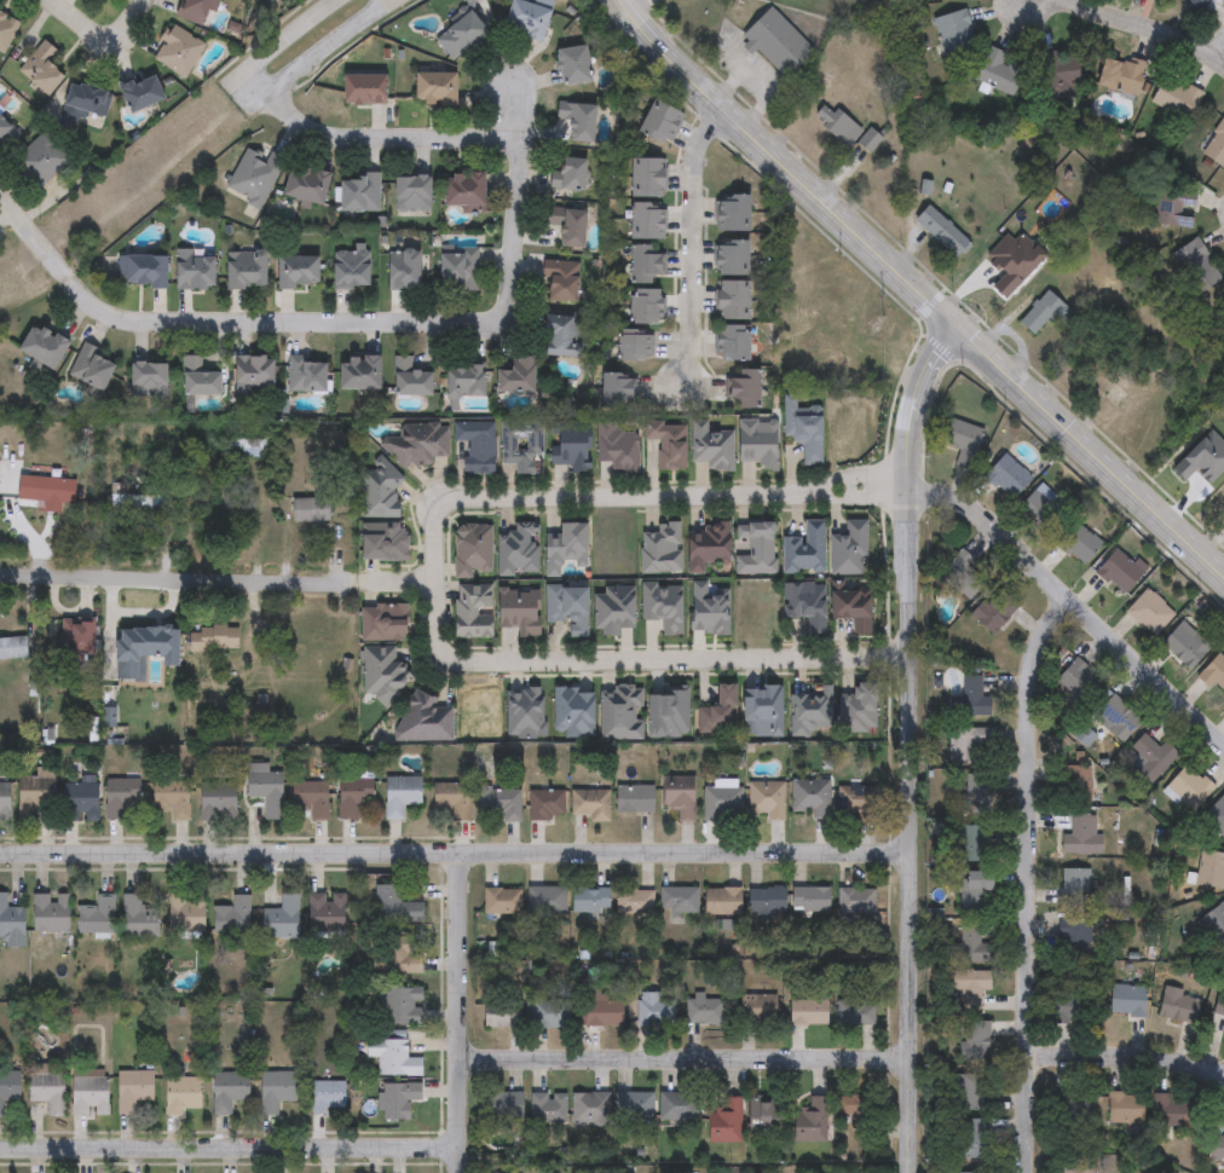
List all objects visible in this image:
building: (103, 0)
building: (1200, 2)
road: (635, 6)
building: (194, 10)
building: (526, 18)
building: (6, 29)
building: (954, 33)
road: (1147, 33)
road: (100, 35)
road: (291, 35)
building: (460, 35)
building: (779, 45)
road: (331, 47)
building: (177, 51)
road: (1216, 52)
building: (572, 65)
building: (41, 68)
building: (1060, 69)
building: (999, 73)
building: (1120, 76)
building: (364, 88)
building: (434, 88)
building: (142, 92)
building: (1177, 97)
building: (87, 98)
building: (577, 120)
building: (662, 121)
building: (837, 126)
building: (5, 129)
road: (369, 137)
building: (870, 143)
building: (1216, 146)
building: (39, 158)
building: (567, 173)
building: (252, 175)
building: (648, 177)
building: (306, 184)
building: (463, 190)
building: (358, 193)
building: (411, 193)
road: (518, 201)
building: (1173, 209)
building: (733, 212)
building: (648, 219)
building: (567, 225)
building: (941, 232)
road: (692, 242)
building: (732, 258)
building: (646, 262)
building: (1196, 265)
building: (351, 268)
building: (458, 268)
building: (140, 270)
building: (194, 270)
building: (246, 270)
building: (403, 270)
building: (298, 271)
building: (561, 281)
road: (917, 293)
building: (733, 299)
building: (646, 305)
building: (1041, 314)
road: (227, 319)
building: (562, 336)
building: (733, 342)
building: (636, 345)
building: (42, 347)
building: (91, 369)
building: (253, 372)
building: (359, 372)
building: (305, 374)
building: (201, 376)
building: (515, 376)
building: (410, 379)
building: (148, 380)
building: (464, 381)
building: (744, 389)
building: (617, 391)
building: (804, 428)
building: (960, 437)
building: (668, 441)
building: (520, 443)
building: (757, 443)
building: (477, 444)
building: (712, 444)
building: (417, 445)
building: (571, 445)
building: (617, 446)
building: (1005, 475)
building: (46, 490)
building: (382, 497)
building: (140, 503)
building: (1041, 508)
building: (311, 512)
building: (1076, 543)
building: (706, 544)
building: (566, 547)
building: (756, 547)
building: (659, 548)
building: (804, 548)
building: (518, 549)
road: (427, 560)
building: (1116, 571)
building: (962, 572)
road: (385, 580)
road: (171, 582)
building: (806, 603)
building: (568, 606)
building: (521, 608)
road: (1073, 608)
building: (472, 609)
building: (992, 611)
building: (1149, 612)
building: (387, 623)
building: (79, 638)
building: (215, 645)
building: (1184, 645)
building: (13, 648)
road: (894, 658)
building: (1213, 672)
building: (386, 676)
building: (1076, 678)
building: (969, 700)
building: (814, 711)
building: (1114, 717)
building: (427, 721)
road: (918, 744)
building: (969, 746)
building: (1151, 757)
building: (1078, 782)
building: (1188, 787)
building: (35, 788)
building: (266, 788)
building: (974, 793)
building: (402, 794)
building: (120, 796)
building: (353, 796)
building: (681, 796)
building: (311, 797)
building: (809, 797)
building: (171, 798)
building: (635, 798)
building: (767, 798)
building: (452, 799)
building: (4, 802)
building: (81, 802)
building: (218, 802)
building: (855, 802)
building: (502, 803)
building: (723, 803)
building: (545, 805)
building: (593, 805)
building: (1216, 814)
building: (1080, 836)
building: (969, 843)
road: (458, 855)
building: (1209, 869)
road: (1026, 880)
building: (1073, 886)
building: (972, 891)
building: (545, 900)
building: (591, 900)
building: (679, 900)
building: (807, 900)
building: (502, 901)
building: (635, 901)
building: (763, 901)
building: (854, 901)
building: (721, 902)
building: (394, 906)
building: (50, 912)
building: (327, 912)
building: (185, 913)
building: (96, 915)
building: (232, 915)
building: (137, 918)
building: (282, 919)
building: (11, 924)
building: (1216, 925)
building: (1073, 937)
building: (968, 946)
building: (402, 958)
building: (968, 989)
building: (1125, 999)
building: (1067, 1004)
building: (1176, 1005)
building: (1218, 1005)
building: (404, 1006)
building: (752, 1009)
building: (653, 1010)
building: (602, 1011)
building: (703, 1012)
road: (463, 1013)
building: (803, 1013)
building: (853, 1013)
building: (504, 1015)
building: (550, 1015)
building: (972, 1040)
building: (394, 1057)
road: (1125, 1058)
road: (689, 1061)
building: (10, 1087)
building: (47, 1090)
building: (133, 1090)
building: (229, 1091)
building: (276, 1091)
building: (968, 1092)
building: (90, 1094)
building: (181, 1096)
building: (329, 1097)
building: (399, 1099)
building: (504, 1106)
building: (590, 1106)
building: (635, 1106)
building: (677, 1106)
building: (548, 1108)
building: (1122, 1108)
building: (1073, 1109)
building: (772, 1110)
building: (1166, 1110)
building: (752, 1116)
building: (853, 1116)
building: (721, 1121)
building: (806, 1123)
building: (971, 1138)
road: (230, 1149)
building: (1214, 1150)
building: (1073, 1168)

